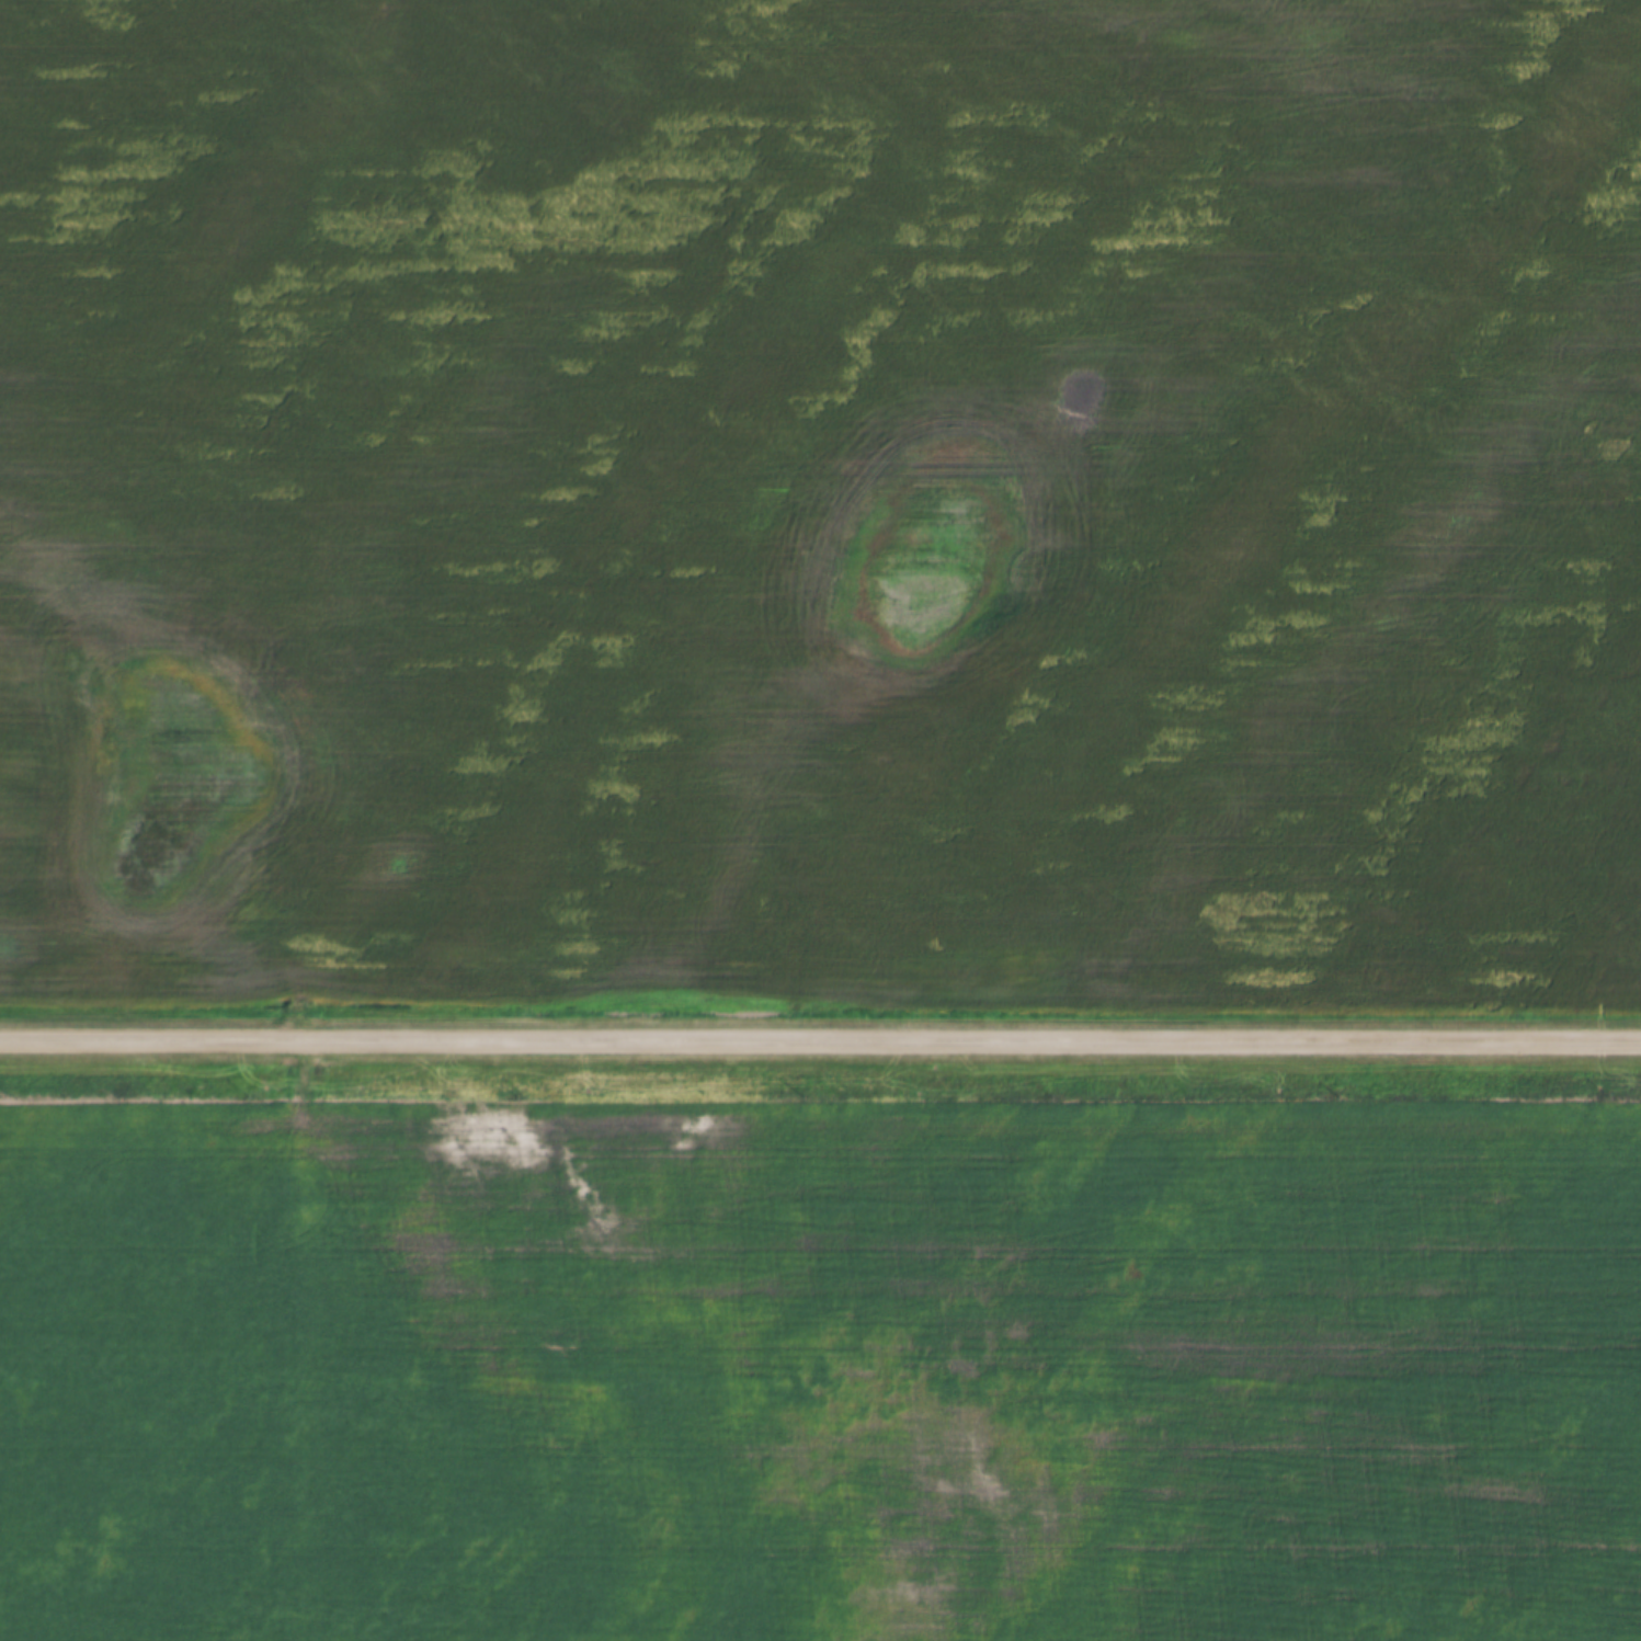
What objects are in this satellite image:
road: (820, 1038)

